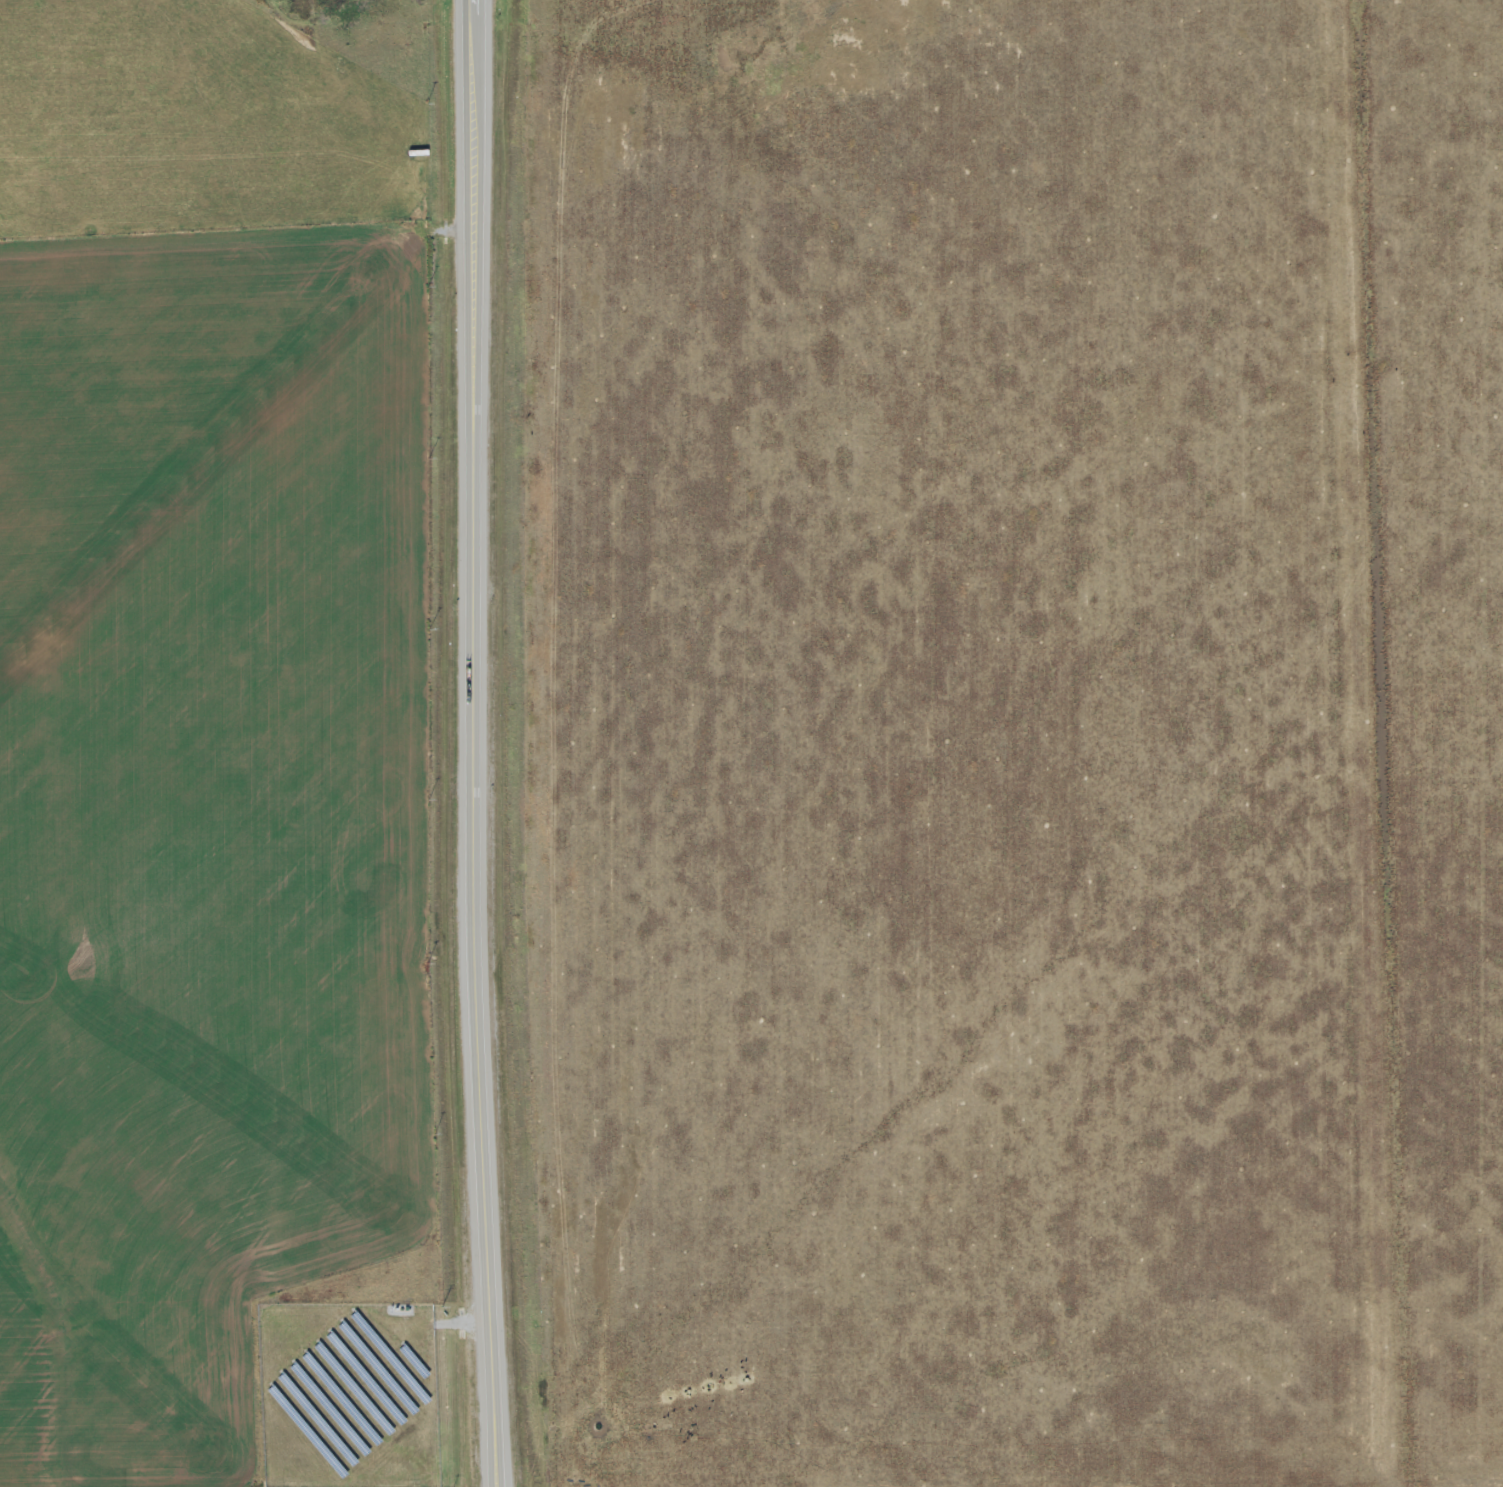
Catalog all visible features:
road: (483, 703)
road: (493, 1447)

